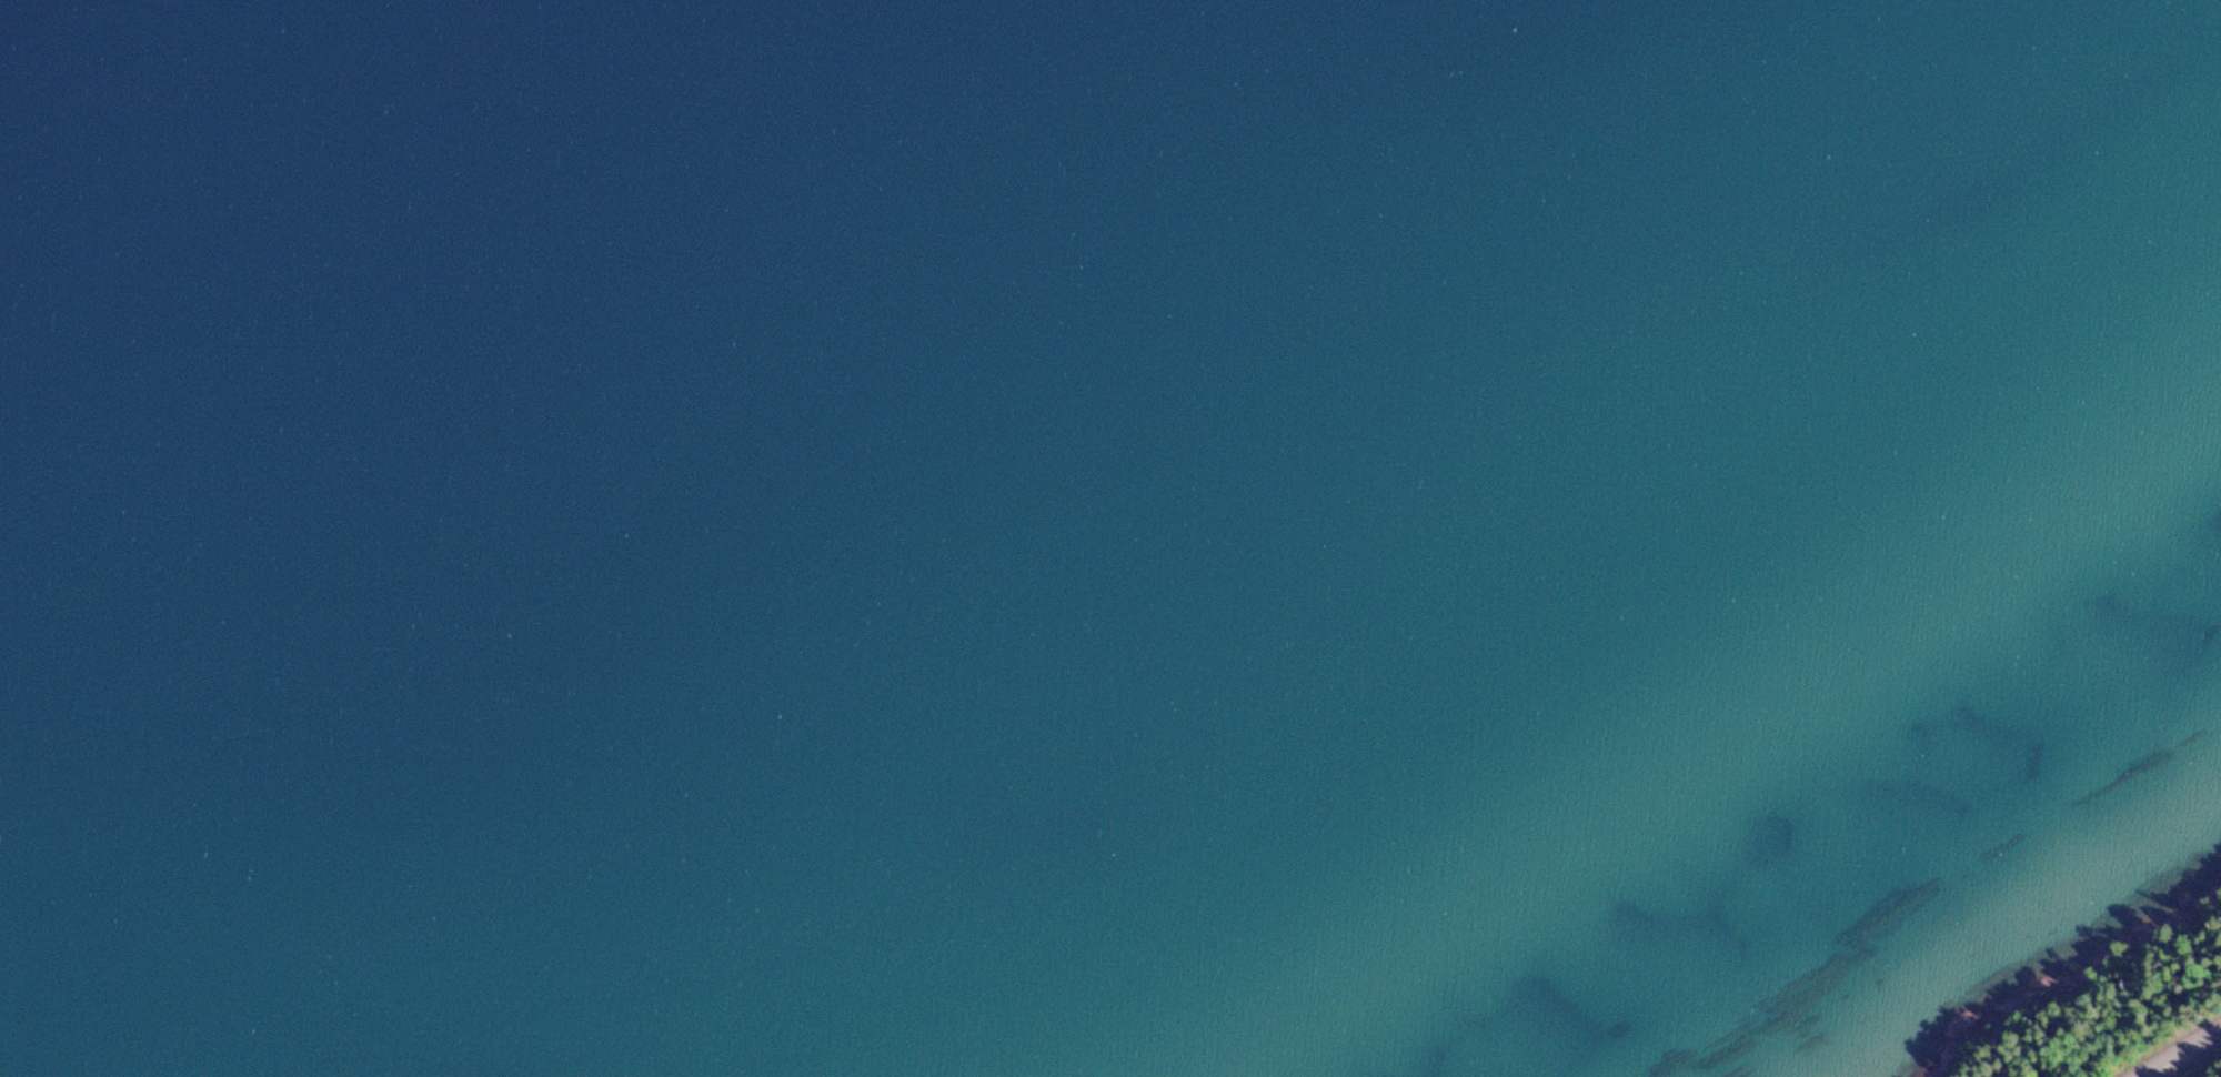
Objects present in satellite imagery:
road: (2182, 1055)

